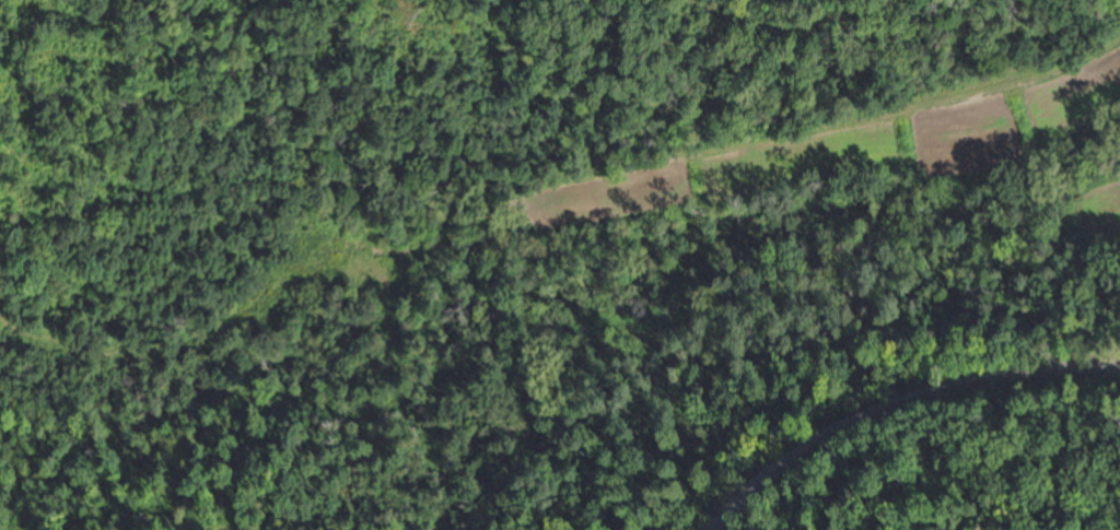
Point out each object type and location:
road: (909, 404)

